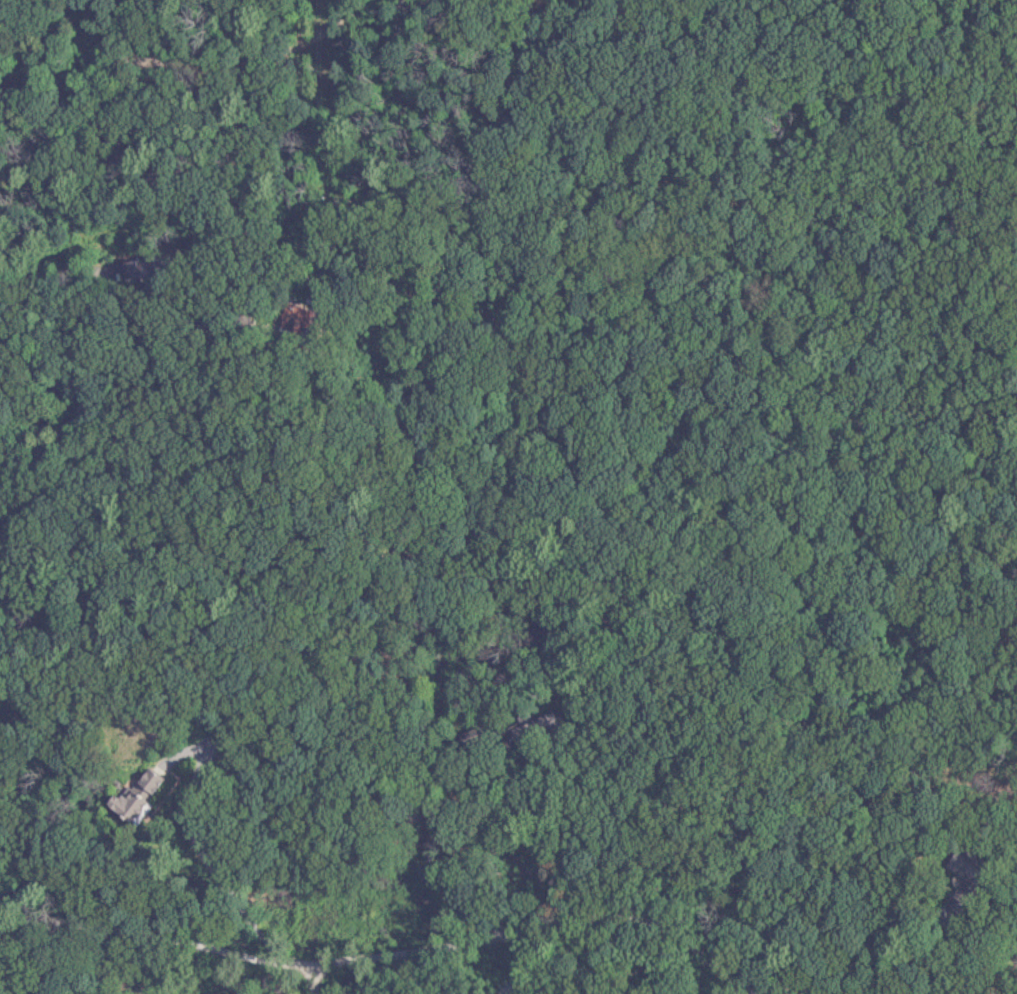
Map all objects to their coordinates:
road: (201, 81)
building: (144, 782)
building: (124, 805)
road: (496, 845)
building: (973, 862)
road: (221, 880)
road: (373, 960)
road: (548, 967)
road: (310, 979)

